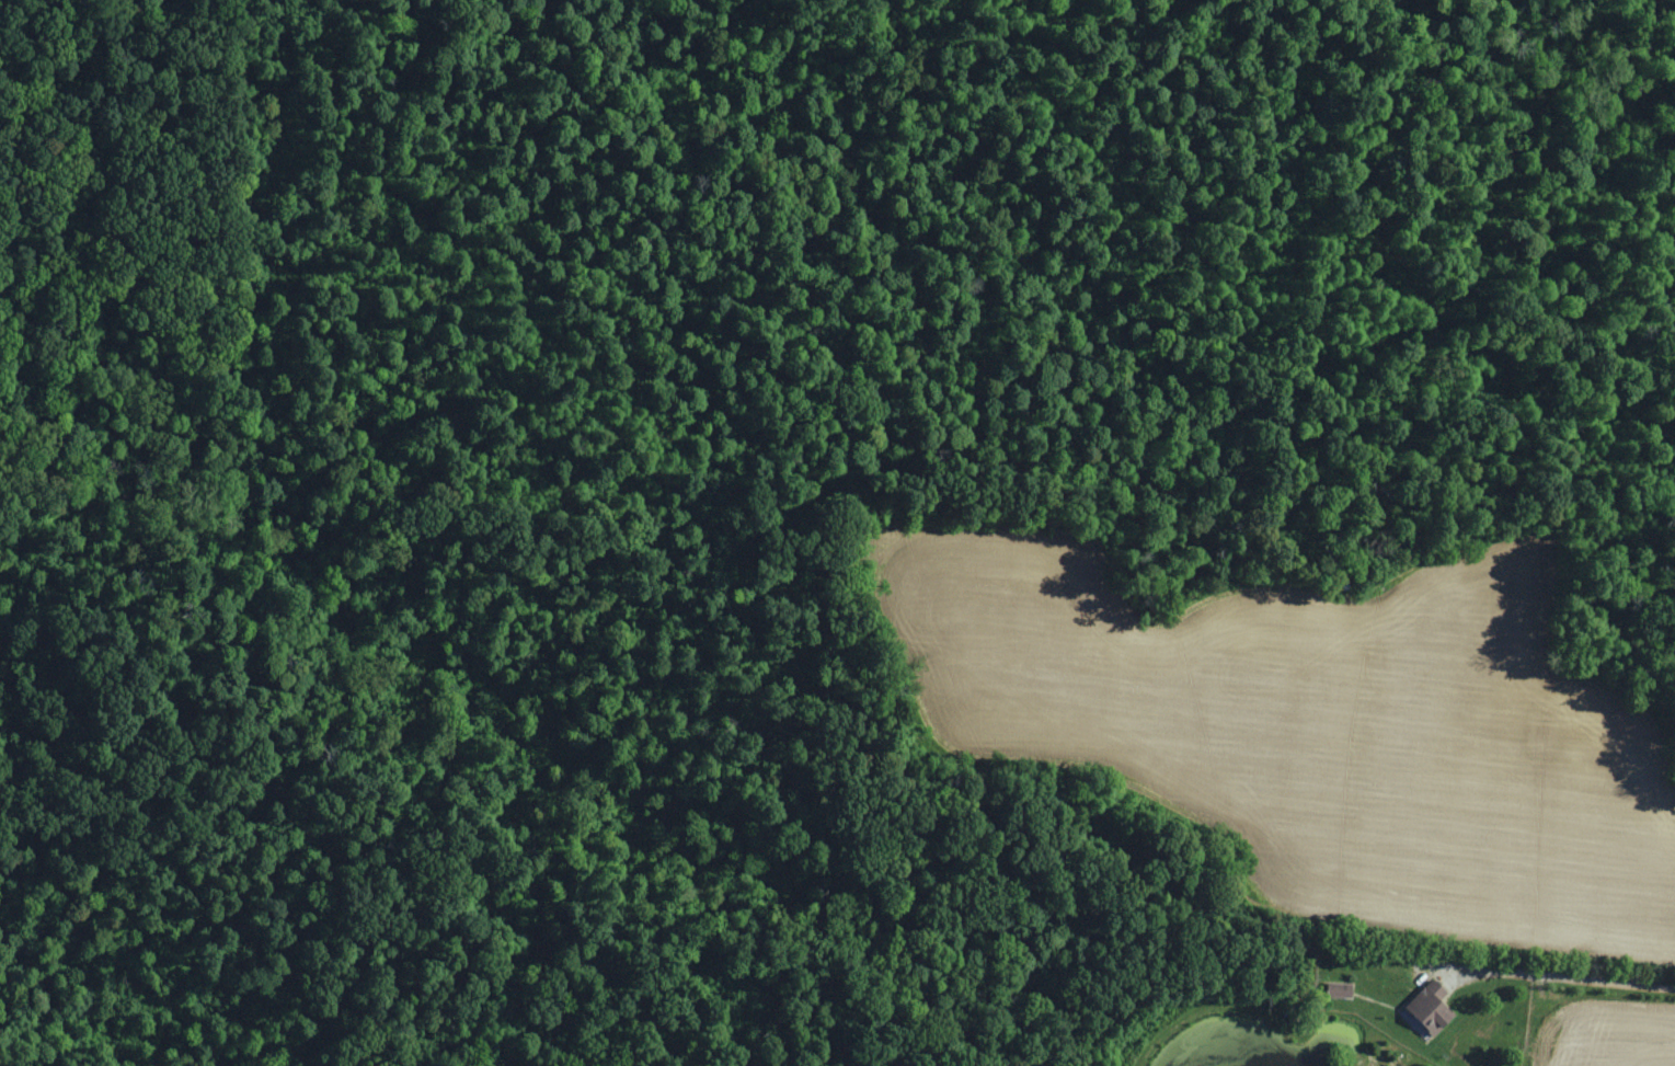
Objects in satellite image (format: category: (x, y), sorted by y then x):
building: (1424, 1009)

